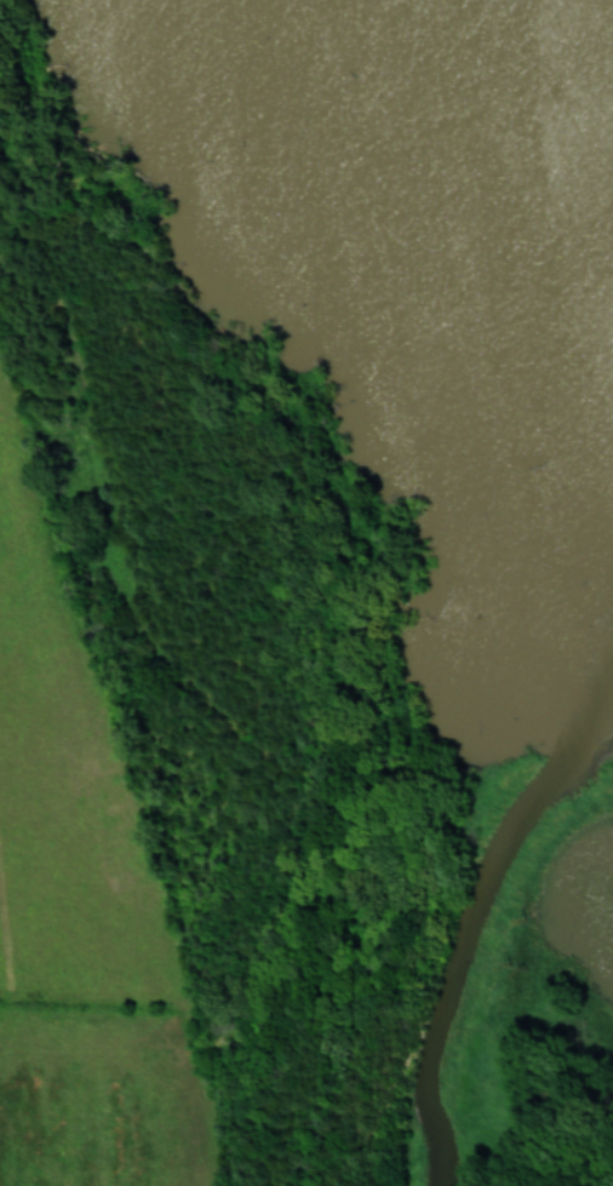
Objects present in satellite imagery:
park: (345, 539)

